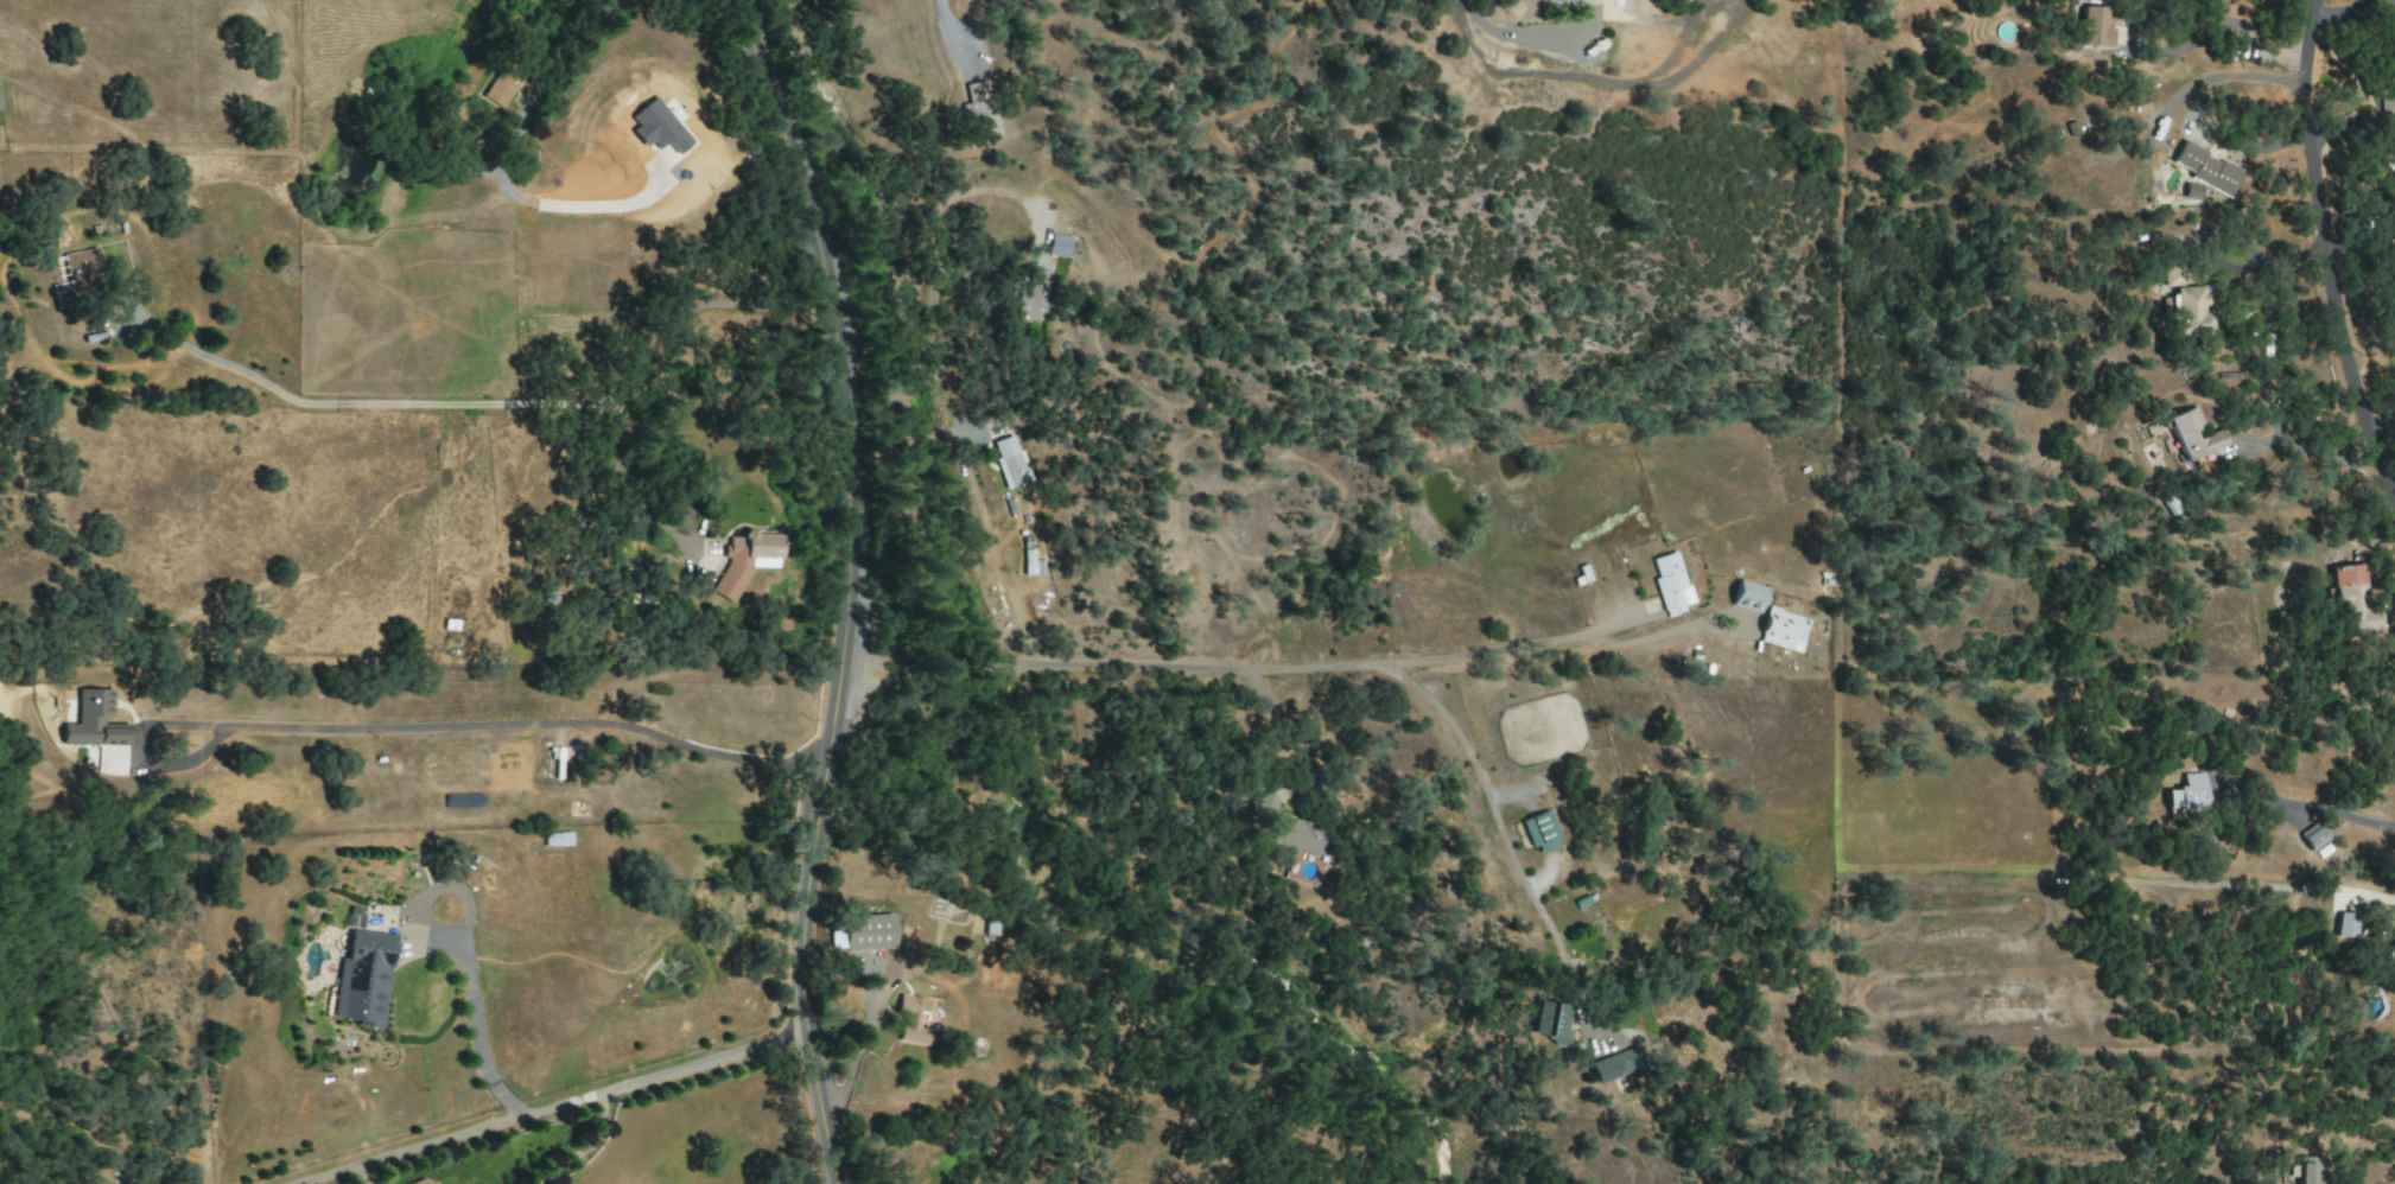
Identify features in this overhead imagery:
building: (1568, 0)
road: (2340, 12)
building: (2092, 26)
road: (2229, 28)
road: (947, 30)
road: (1519, 34)
road: (554, 61)
building: (500, 88)
building: (2388, 104)
road: (478, 166)
building: (2205, 170)
road: (570, 209)
building: (1057, 246)
road: (2325, 254)
building: (77, 268)
building: (2172, 275)
building: (1033, 295)
building: (2190, 312)
road: (932, 342)
road: (214, 361)
road: (592, 403)
building: (2192, 435)
road: (2311, 454)
building: (1010, 461)
road: (624, 478)
road: (991, 546)
building: (744, 561)
building: (1027, 564)
building: (1038, 567)
building: (1670, 581)
road: (858, 585)
building: (1747, 596)
building: (2352, 604)
building: (1781, 630)
road: (1656, 634)
road: (1213, 669)
building: (94, 721)
road: (500, 732)
building: (2187, 795)
road: (2325, 811)
building: (1288, 828)
road: (1501, 832)
building: (1540, 833)
building: (2312, 836)
building: (555, 840)
building: (352, 917)
building: (2346, 924)
building: (866, 932)
building: (2393, 938)
road: (909, 970)
building: (363, 979)
road: (113, 1021)
building: (1555, 1024)
road: (478, 1035)
road: (859, 1048)
building: (1615, 1065)
road: (566, 1112)
road: (579, 1152)
building: (2306, 1171)
building: (423, 1180)

